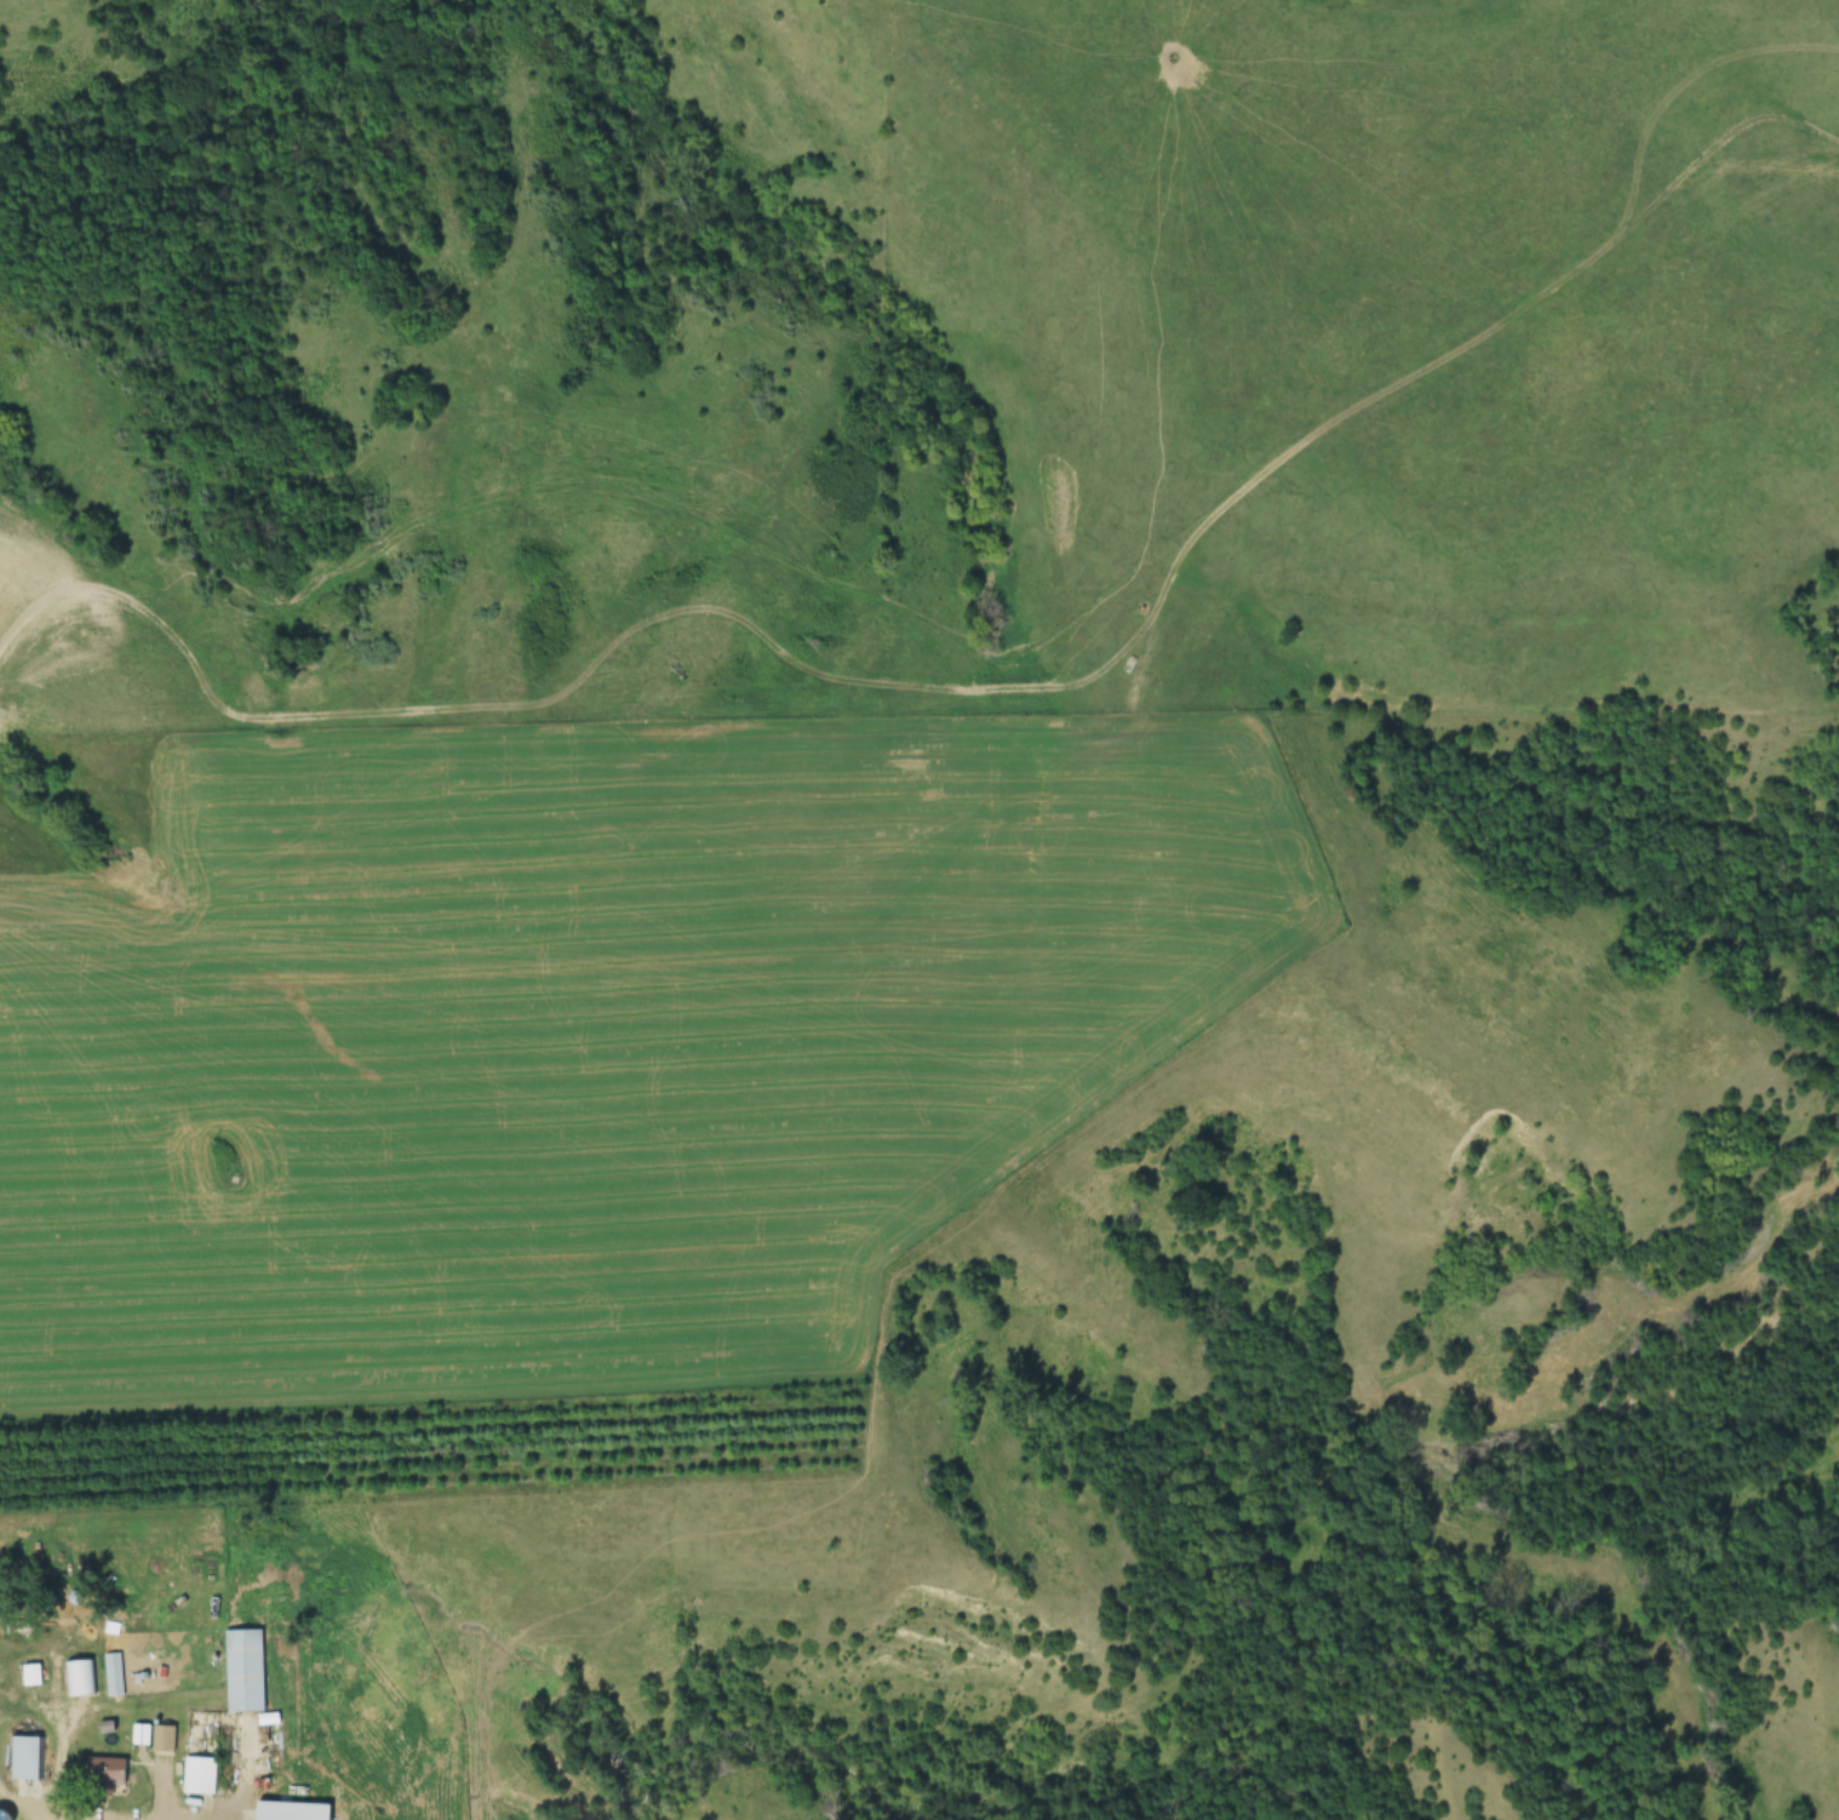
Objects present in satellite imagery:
building: (33, 1622)
building: (250, 1670)
building: (116, 1673)
building: (167, 1738)
building: (31, 1757)
building: (110, 1770)
building: (204, 1775)
building: (240, 1814)

